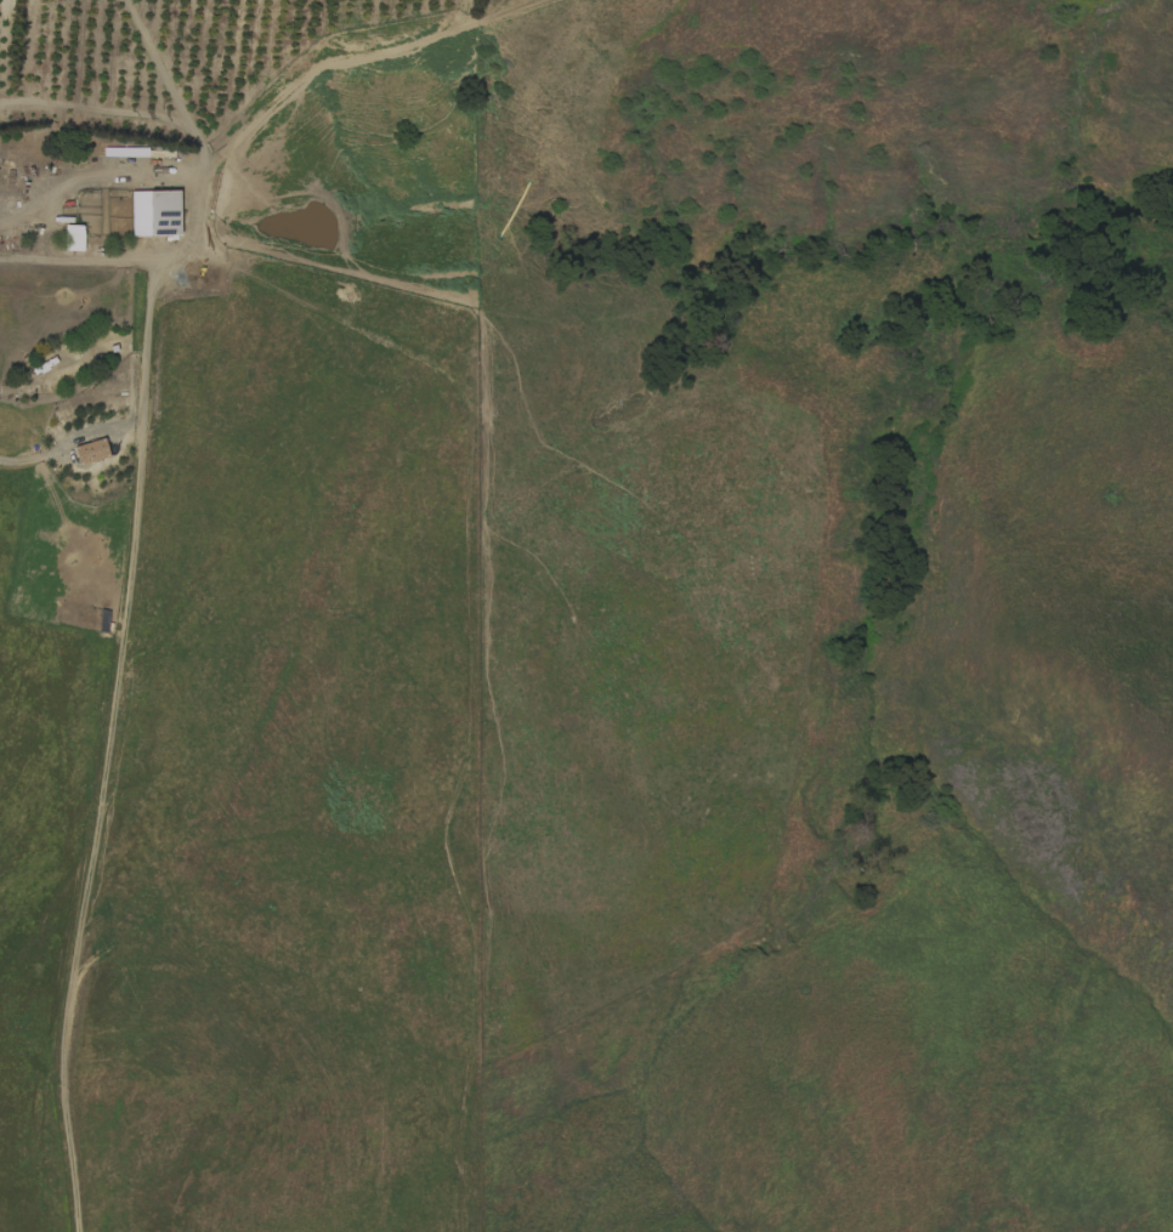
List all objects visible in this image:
road: (246, 125)
building: (153, 214)
building: (72, 238)
building: (90, 450)
road: (110, 745)

